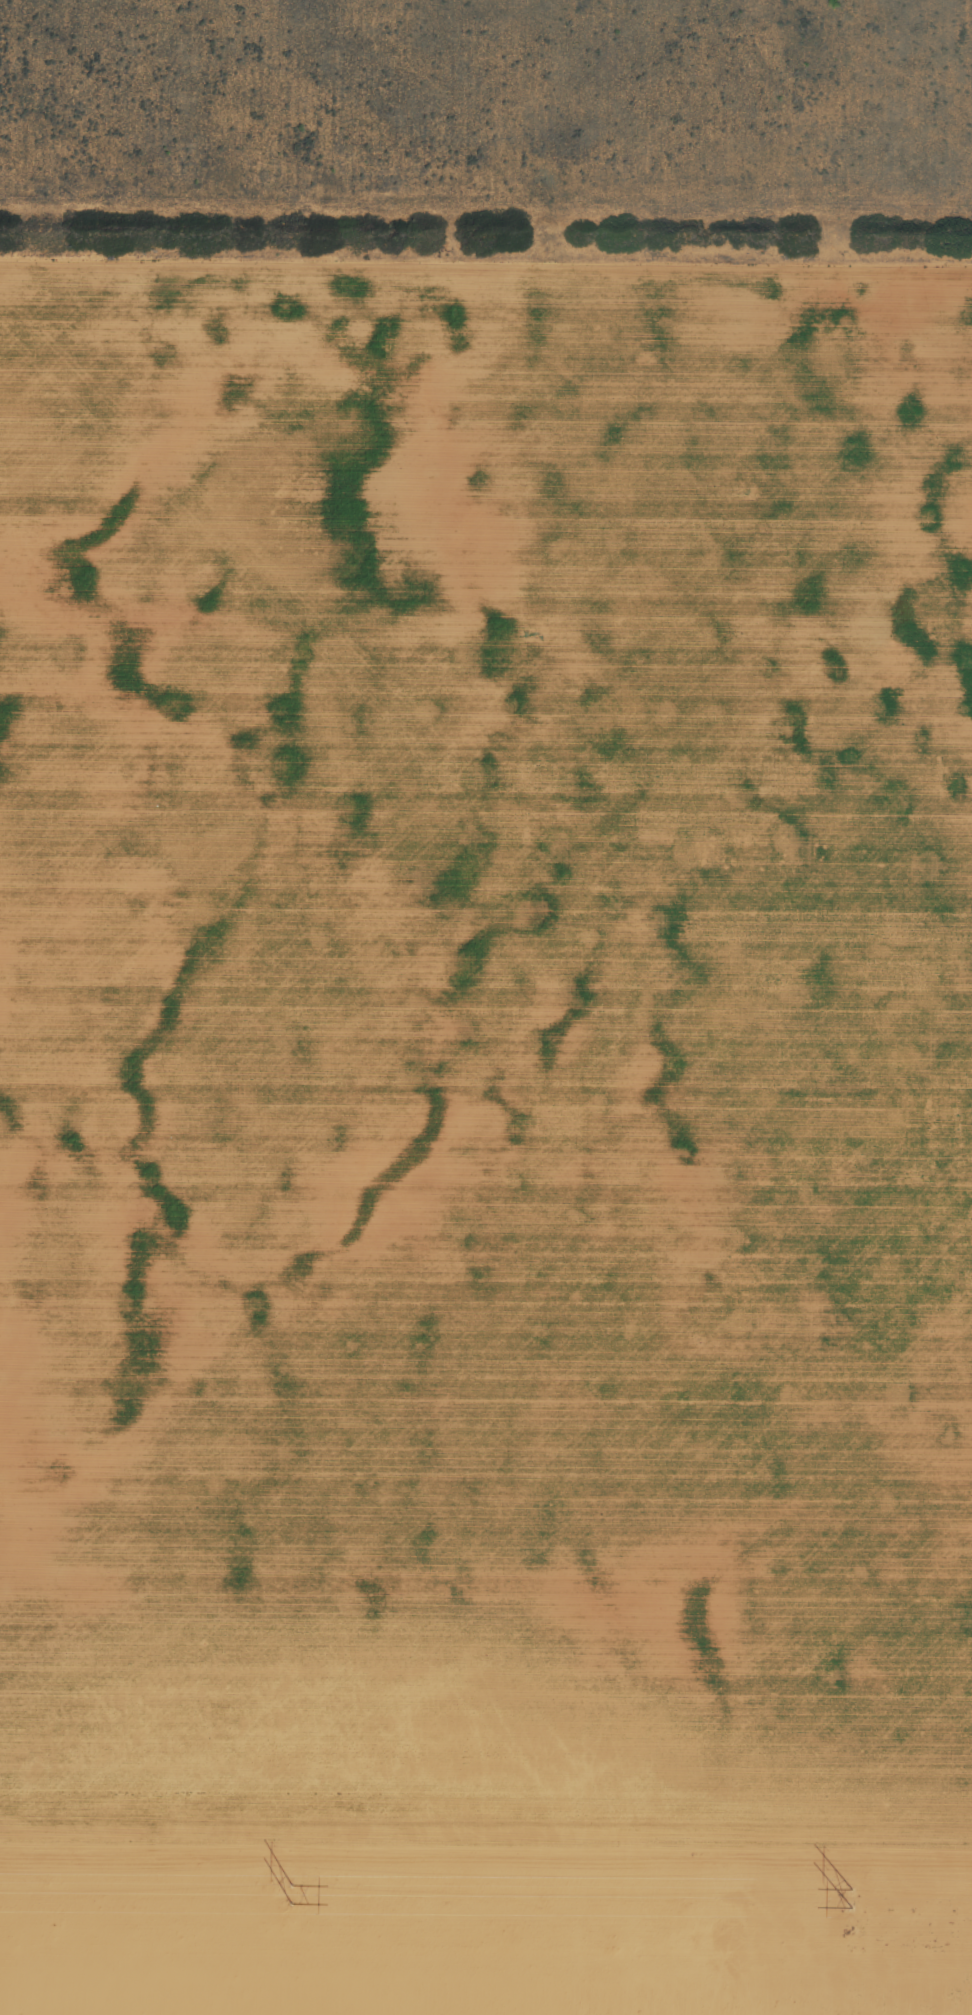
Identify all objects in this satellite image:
power tower: (282, 1878)
power tower: (838, 1882)

